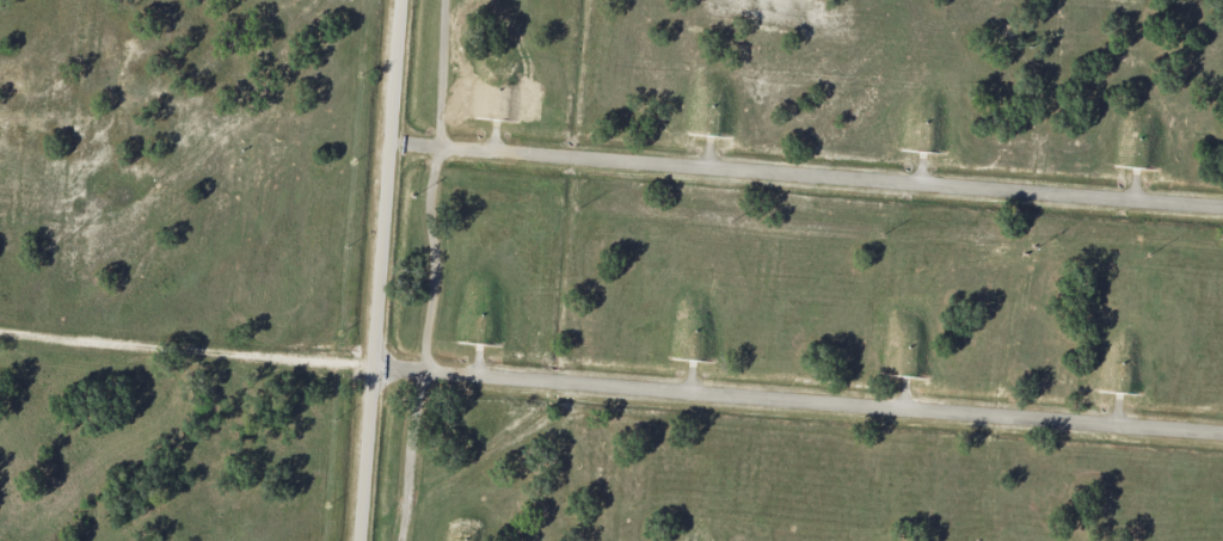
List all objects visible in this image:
road: (805, 173)
road: (431, 186)
road: (377, 270)
road: (610, 386)

